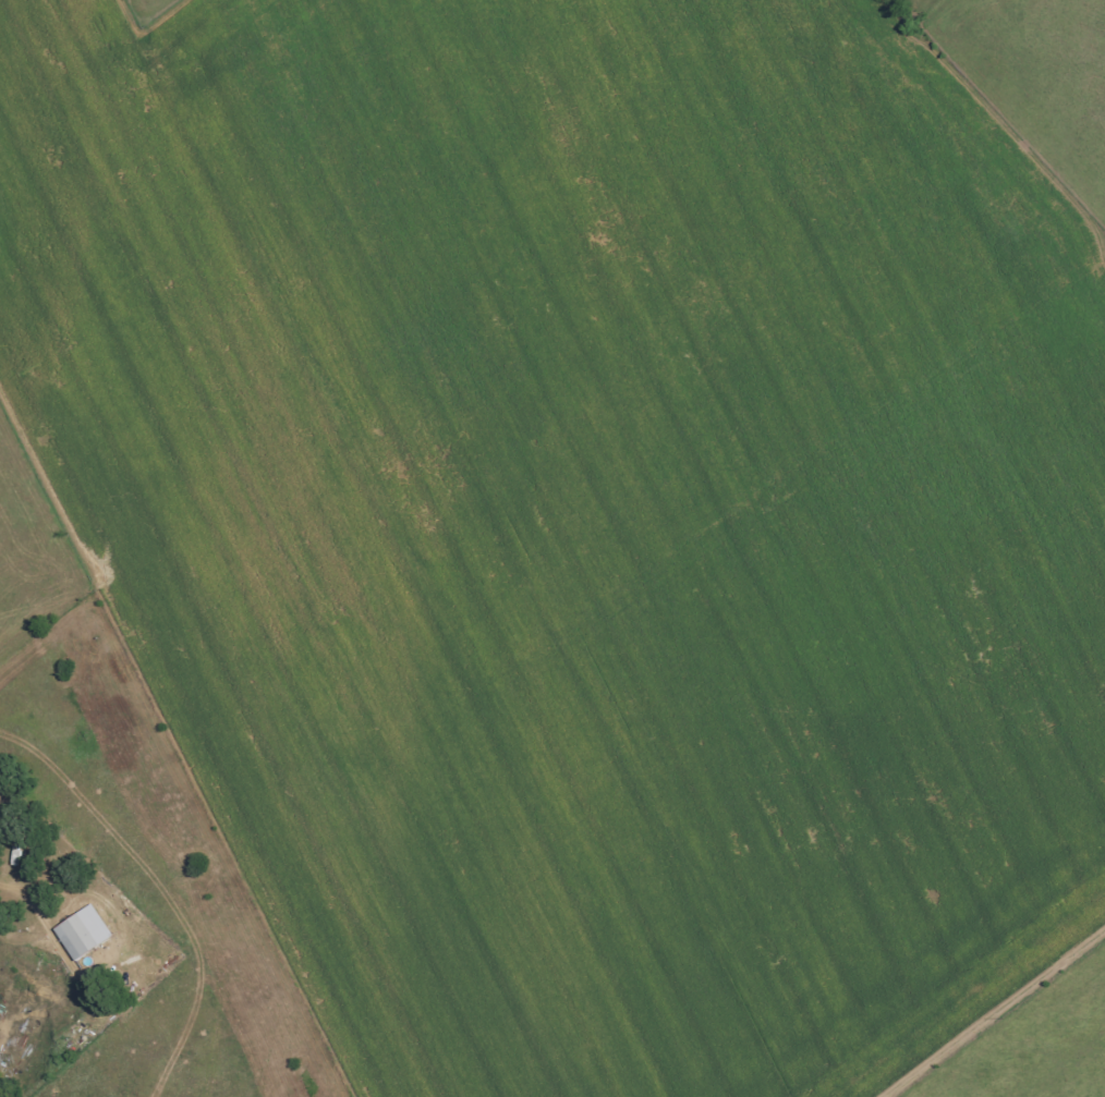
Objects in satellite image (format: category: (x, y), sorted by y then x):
building: (77, 937)
road: (999, 1014)

